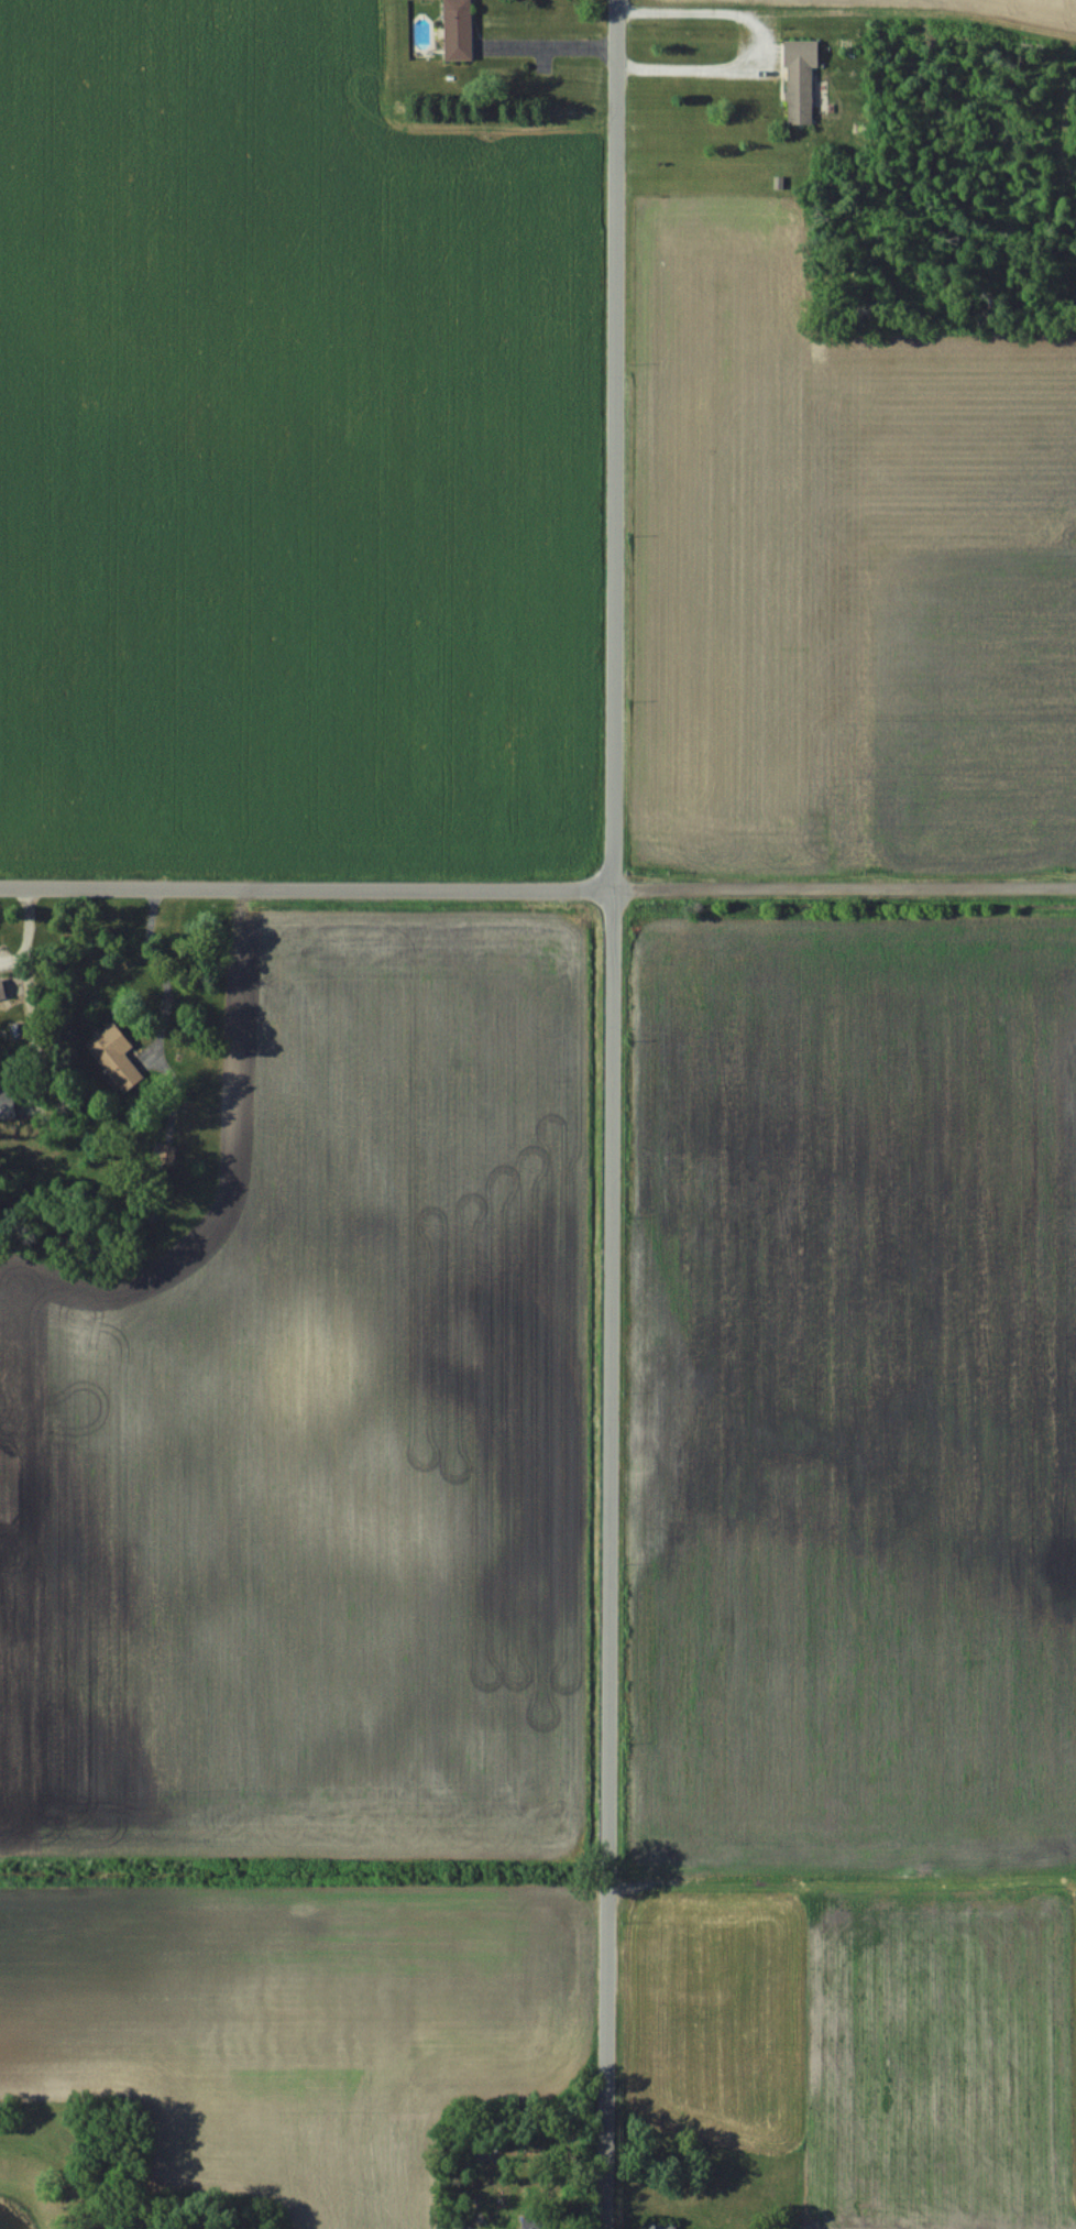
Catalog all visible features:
building: (458, 30)
road: (764, 41)
road: (548, 46)
building: (800, 80)
road: (537, 887)
building: (2, 990)
building: (114, 1056)
road: (608, 1114)
building: (660, 2228)

